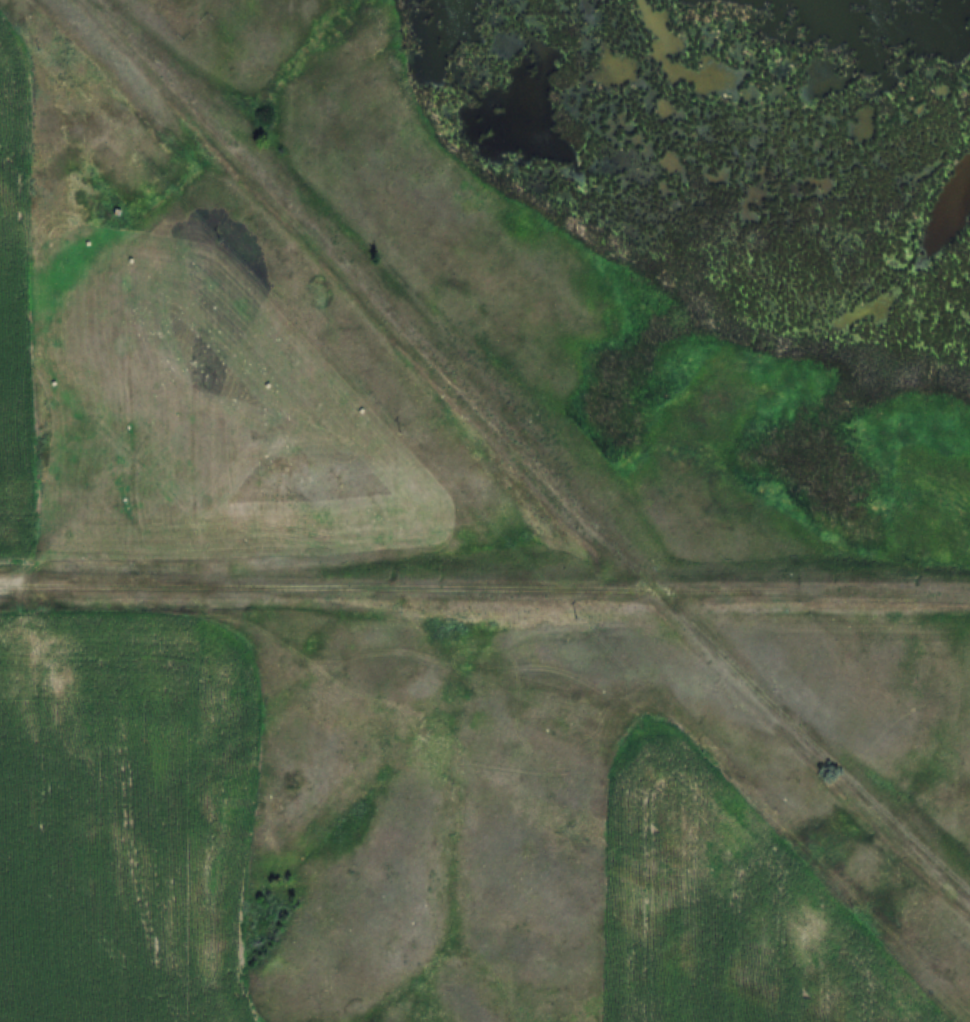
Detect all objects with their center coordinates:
crop: (10, 320)
road: (375, 582)

